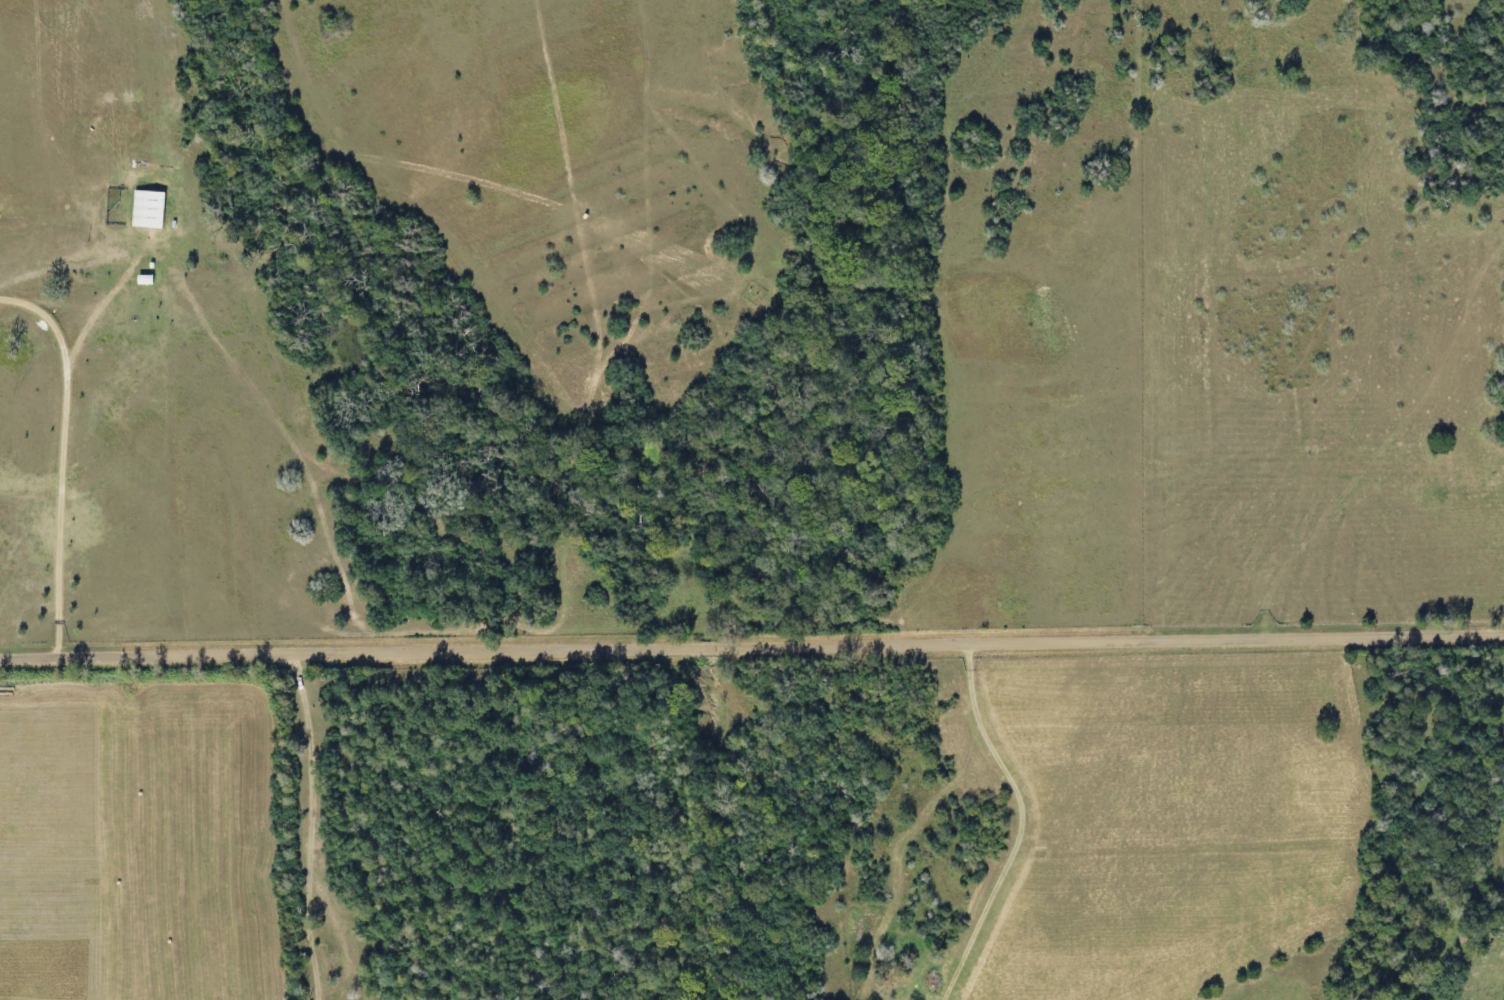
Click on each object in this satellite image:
building: (154, 209)
road: (1479, 318)
road: (752, 647)
road: (310, 829)

